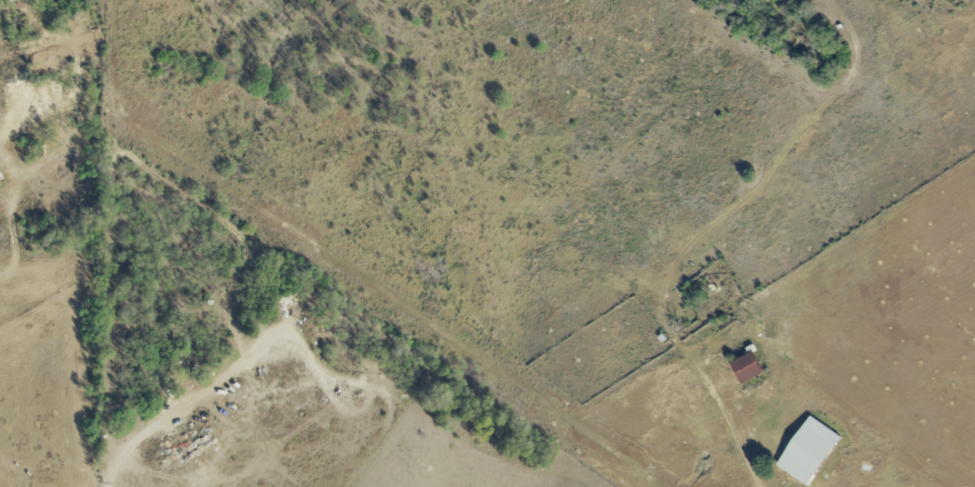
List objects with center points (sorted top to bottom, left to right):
airport runway: (379, 296)
building: (747, 367)
road: (194, 401)
road: (737, 425)
building: (808, 449)

